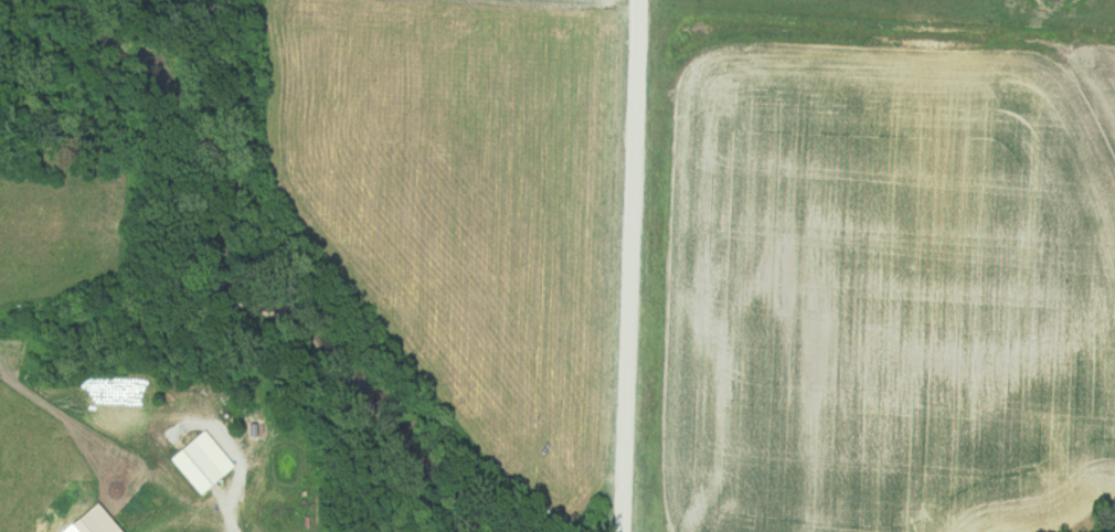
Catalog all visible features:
crop: (487, 3)
crop: (460, 206)
road: (631, 266)
crop: (888, 290)
road: (224, 514)

